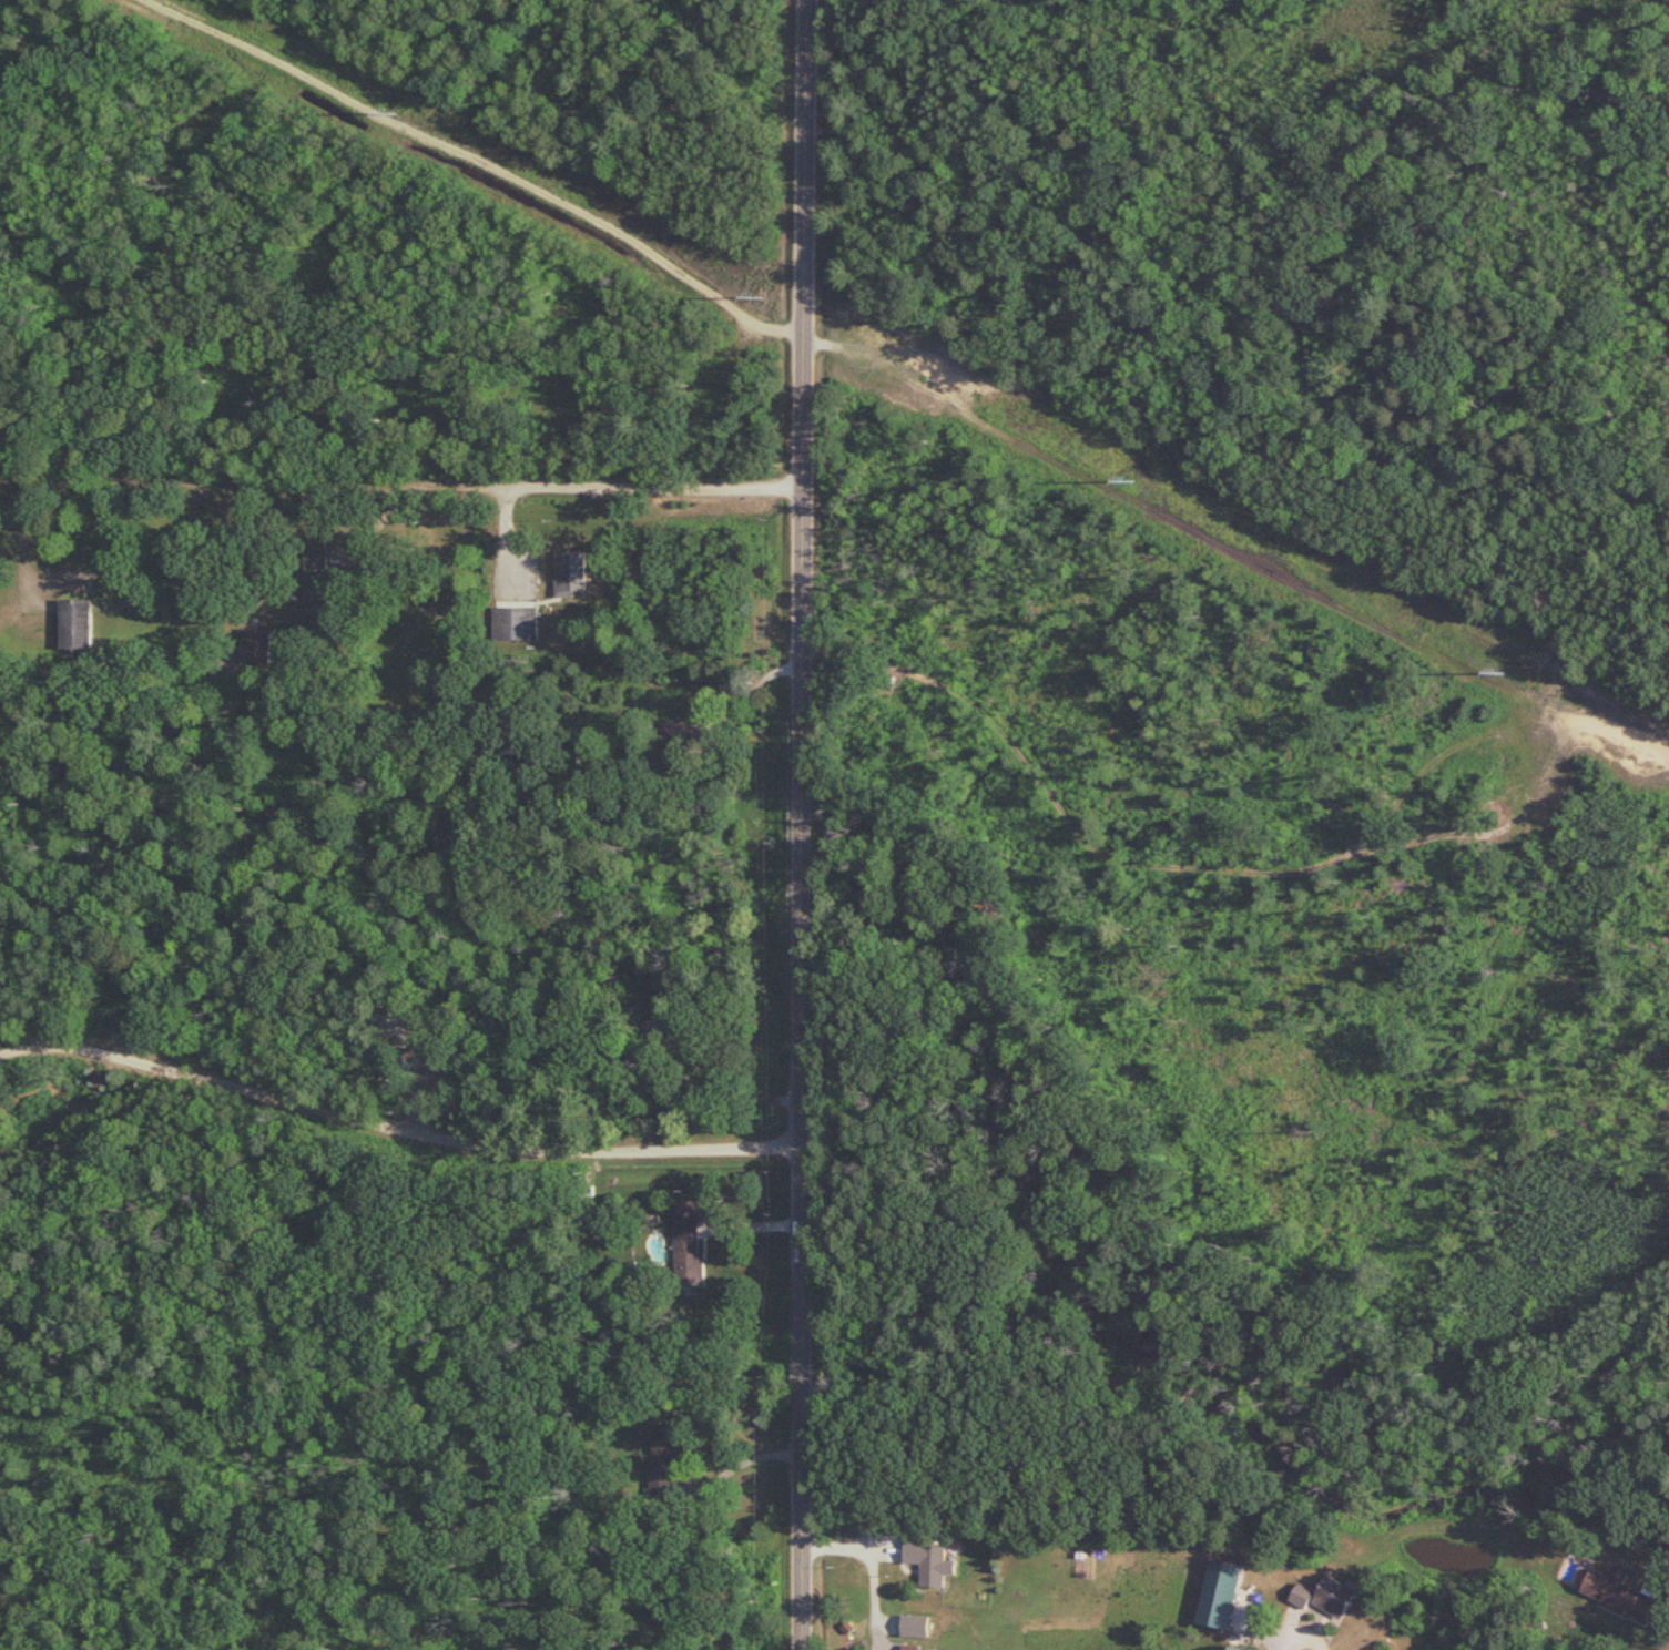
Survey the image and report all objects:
power tower: (395, 110)
power tower: (754, 292)
power tower: (1123, 476)
road: (501, 490)
building: (317, 578)
building: (515, 623)
building: (75, 624)
building: (255, 645)
power tower: (1493, 669)
building: (511, 740)
building: (675, 748)
road: (803, 824)
road: (394, 1135)
building: (689, 1239)
building: (663, 1464)
road: (741, 1465)
building: (930, 1562)
building: (1618, 1593)
building: (1325, 1596)
building: (915, 1626)
road: (1295, 1640)

